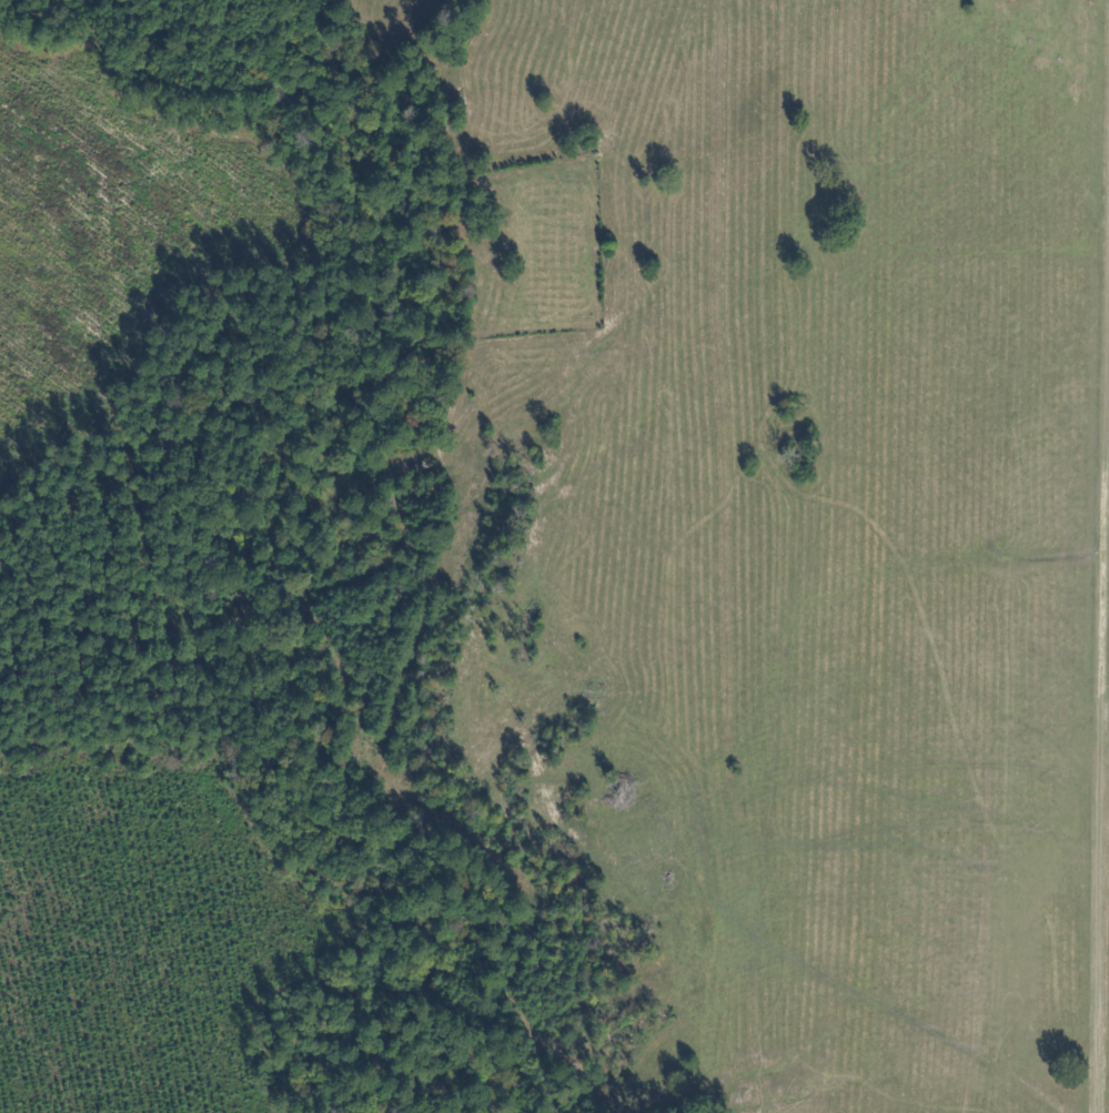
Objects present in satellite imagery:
road: (1088, 595)

